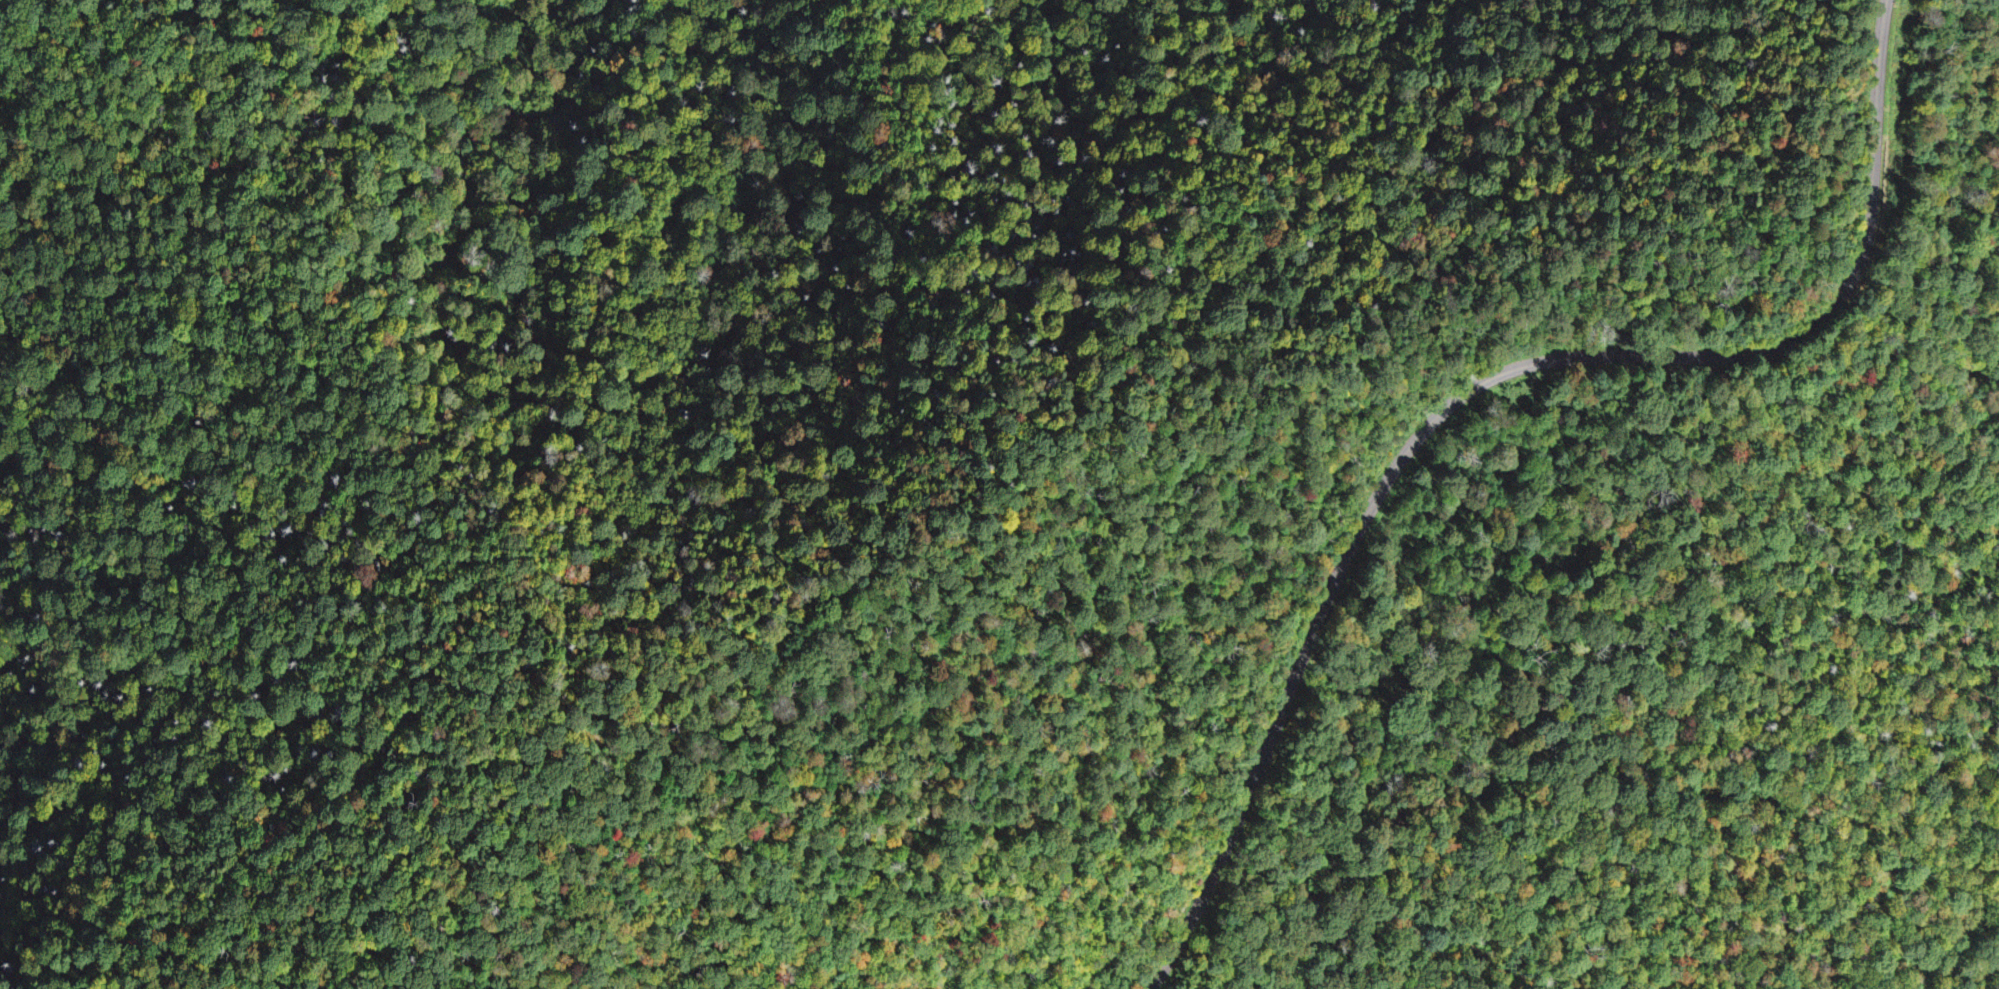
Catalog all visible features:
road: (1878, 49)
road: (1436, 416)
road: (1729, 480)
road: (1150, 510)

